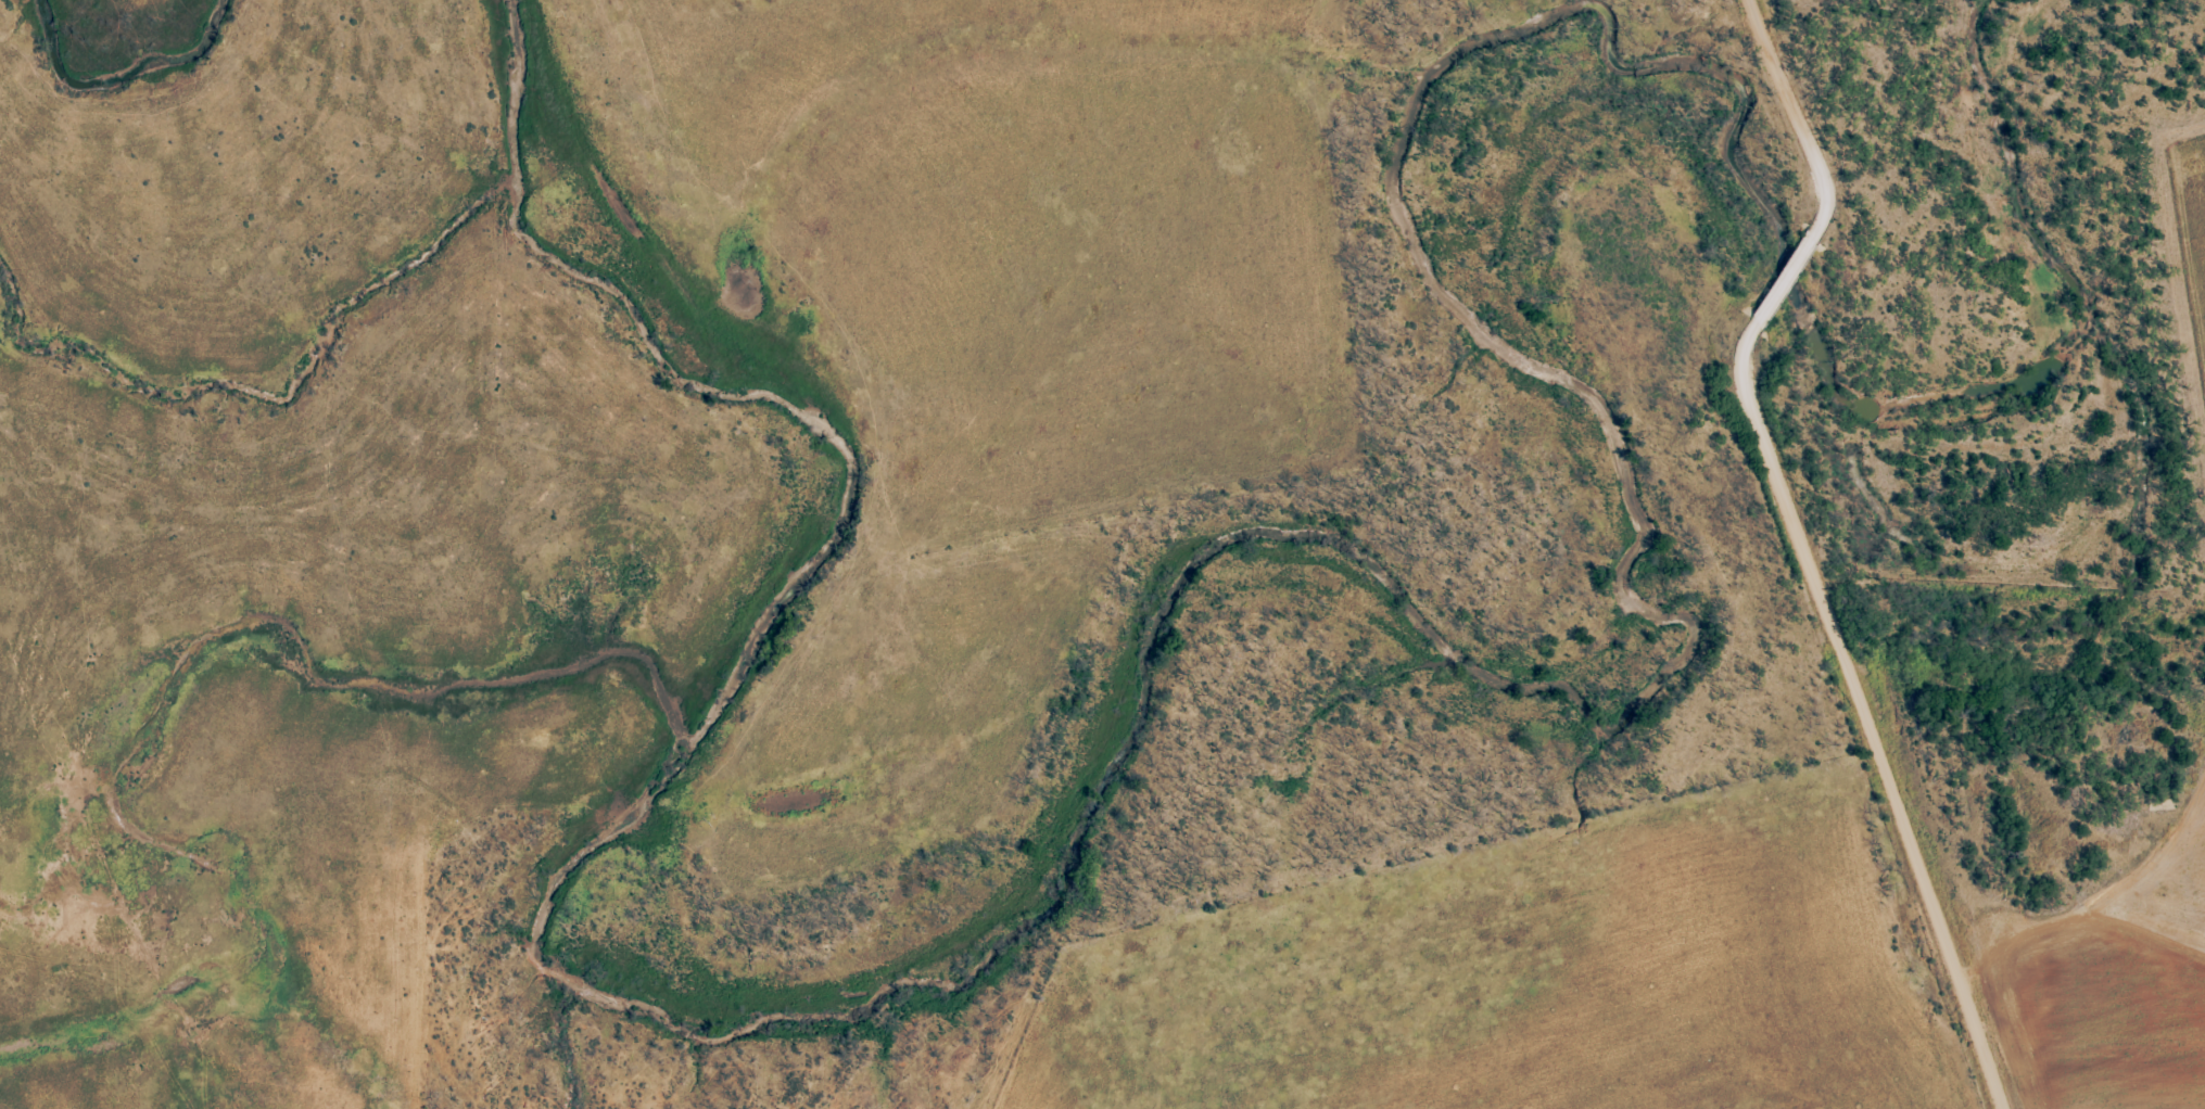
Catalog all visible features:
road: (1797, 530)

